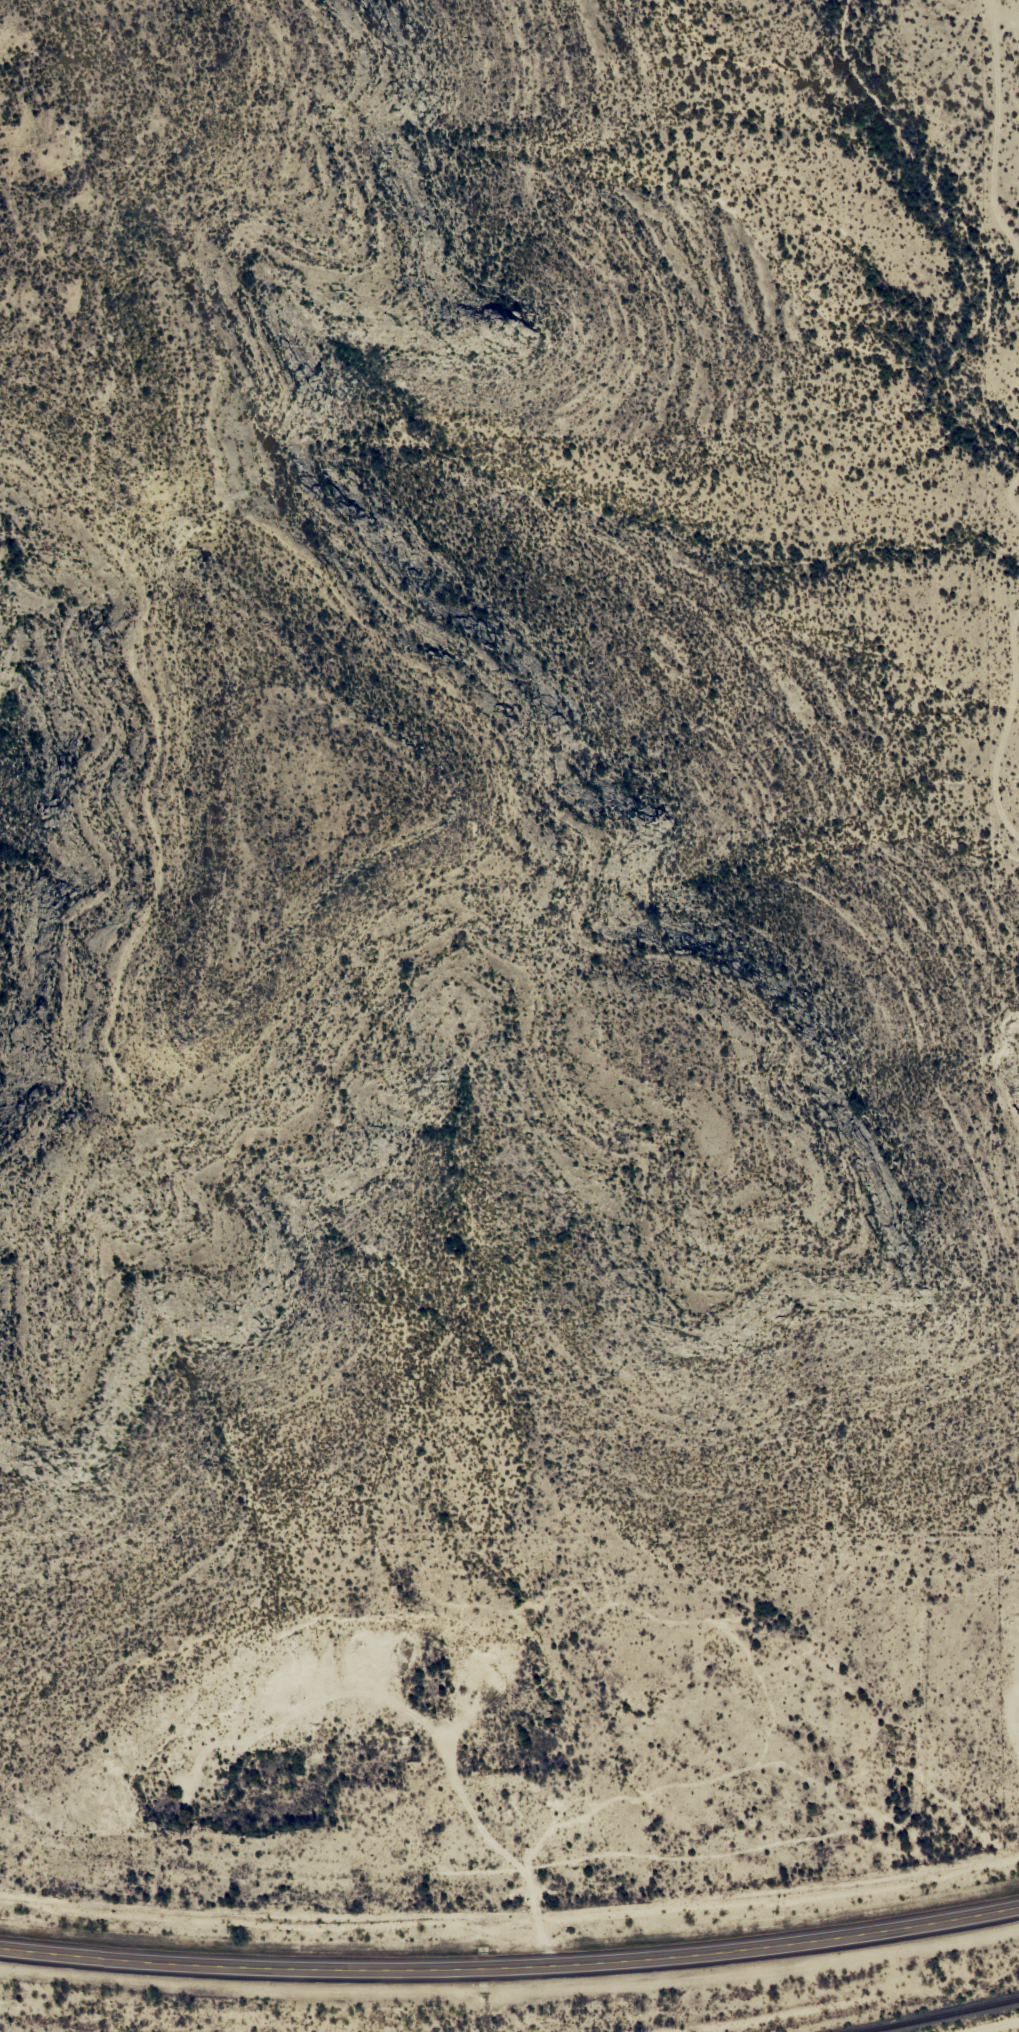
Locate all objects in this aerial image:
road: (511, 1966)
railway: (929, 2015)

